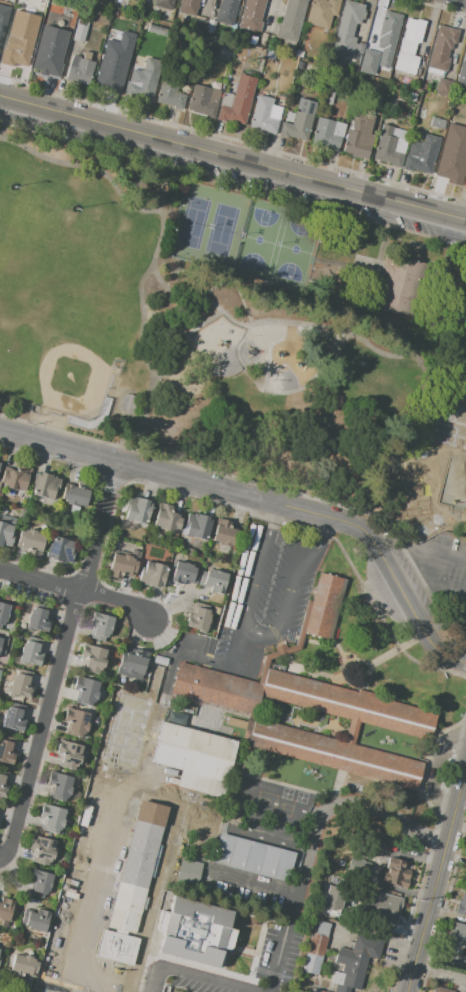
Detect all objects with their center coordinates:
building: (2, 2)
building: (35, 2)
building: (102, 2)
building: (163, 4)
building: (188, 8)
building: (41, 10)
building: (226, 12)
building: (321, 12)
building: (4, 15)
building: (252, 16)
building: (117, 20)
building: (291, 20)
building: (162, 23)
building: (156, 30)
building: (348, 30)
building: (79, 32)
building: (388, 32)
building: (408, 45)
building: (17, 46)
building: (441, 47)
building: (50, 50)
building: (299, 54)
building: (86, 55)
building: (269, 56)
building: (226, 57)
building: (370, 61)
building: (299, 66)
building: (79, 70)
building: (462, 72)
building: (110, 76)
building: (145, 78)
building: (215, 85)
building: (443, 85)
building: (231, 87)
building: (170, 94)
building: (412, 97)
building: (238, 101)
building: (202, 102)
road: (4, 115)
building: (263, 116)
building: (436, 122)
building: (297, 126)
building: (328, 134)
building: (359, 135)
road: (90, 136)
building: (389, 147)
building: (420, 154)
road: (233, 156)
road: (86, 168)
road: (199, 168)
building: (451, 170)
building: (465, 182)
park: (192, 222)
park: (224, 230)
park: (23, 233)
park: (259, 239)
park: (295, 249)
road: (145, 278)
road: (371, 281)
building: (407, 285)
road: (222, 315)
road: (423, 333)
park: (238, 335)
park: (60, 344)
road: (184, 344)
road: (410, 355)
road: (151, 369)
road: (1, 403)
building: (126, 403)
building: (457, 415)
building: (465, 435)
road: (213, 472)
building: (15, 478)
building: (432, 483)
building: (44, 485)
building: (75, 495)
road: (263, 499)
building: (137, 510)
building: (167, 518)
road: (274, 520)
building: (197, 527)
building: (5, 534)
building: (224, 534)
building: (30, 541)
road: (322, 542)
building: (60, 550)
building: (188, 550)
road: (398, 557)
road: (426, 557)
building: (121, 567)
parking lot: (443, 571)
building: (183, 574)
building: (153, 575)
road: (438, 577)
building: (214, 581)
road: (77, 590)
road: (435, 603)
building: (323, 608)
building: (2, 612)
building: (198, 617)
building: (36, 621)
building: (100, 626)
road: (255, 634)
building: (0, 639)
building: (30, 653)
building: (92, 659)
road: (59, 660)
building: (133, 662)
road: (225, 666)
building: (19, 686)
building: (215, 688)
building: (86, 691)
building: (127, 705)
building: (14, 717)
building: (76, 723)
building: (235, 723)
building: (275, 731)
building: (114, 735)
building: (6, 751)
building: (69, 754)
building: (195, 756)
road: (434, 771)
building: (60, 787)
road: (147, 787)
building: (2, 789)
road: (457, 810)
road: (250, 815)
building: (52, 819)
road: (314, 836)
building: (373, 846)
building: (42, 850)
building: (253, 857)
building: (357, 866)
building: (137, 868)
building: (186, 871)
building: (397, 872)
building: (465, 877)
road: (251, 882)
building: (40, 883)
building: (333, 897)
building: (383, 907)
building: (462, 907)
building: (5, 908)
road: (428, 916)
building: (35, 919)
building: (195, 932)
building: (457, 937)
building: (115, 949)
building: (316, 949)
building: (355, 963)
building: (23, 966)
road: (191, 977)
building: (441, 990)

